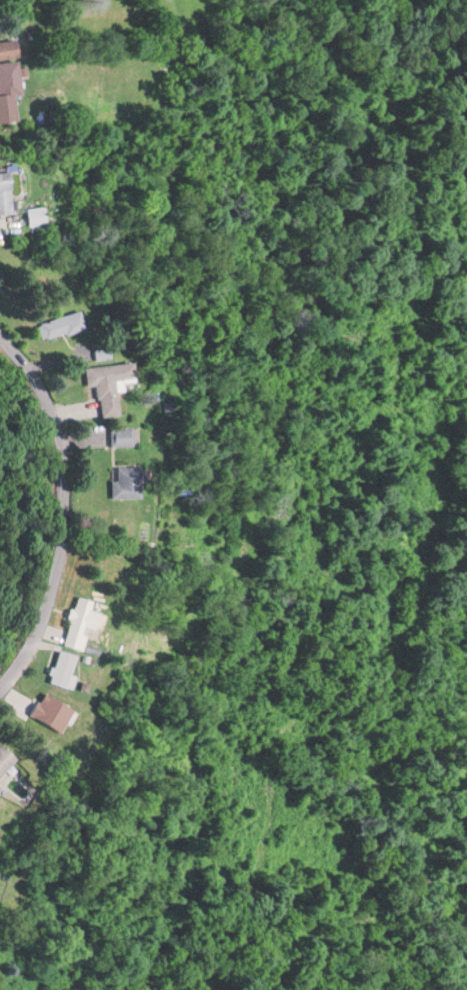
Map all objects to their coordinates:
building: (13, 48)
building: (14, 77)
building: (9, 193)
building: (42, 214)
building: (59, 324)
building: (100, 352)
building: (106, 383)
building: (121, 435)
building: (124, 481)
road: (65, 507)
building: (77, 621)
building: (59, 667)
building: (3, 757)

